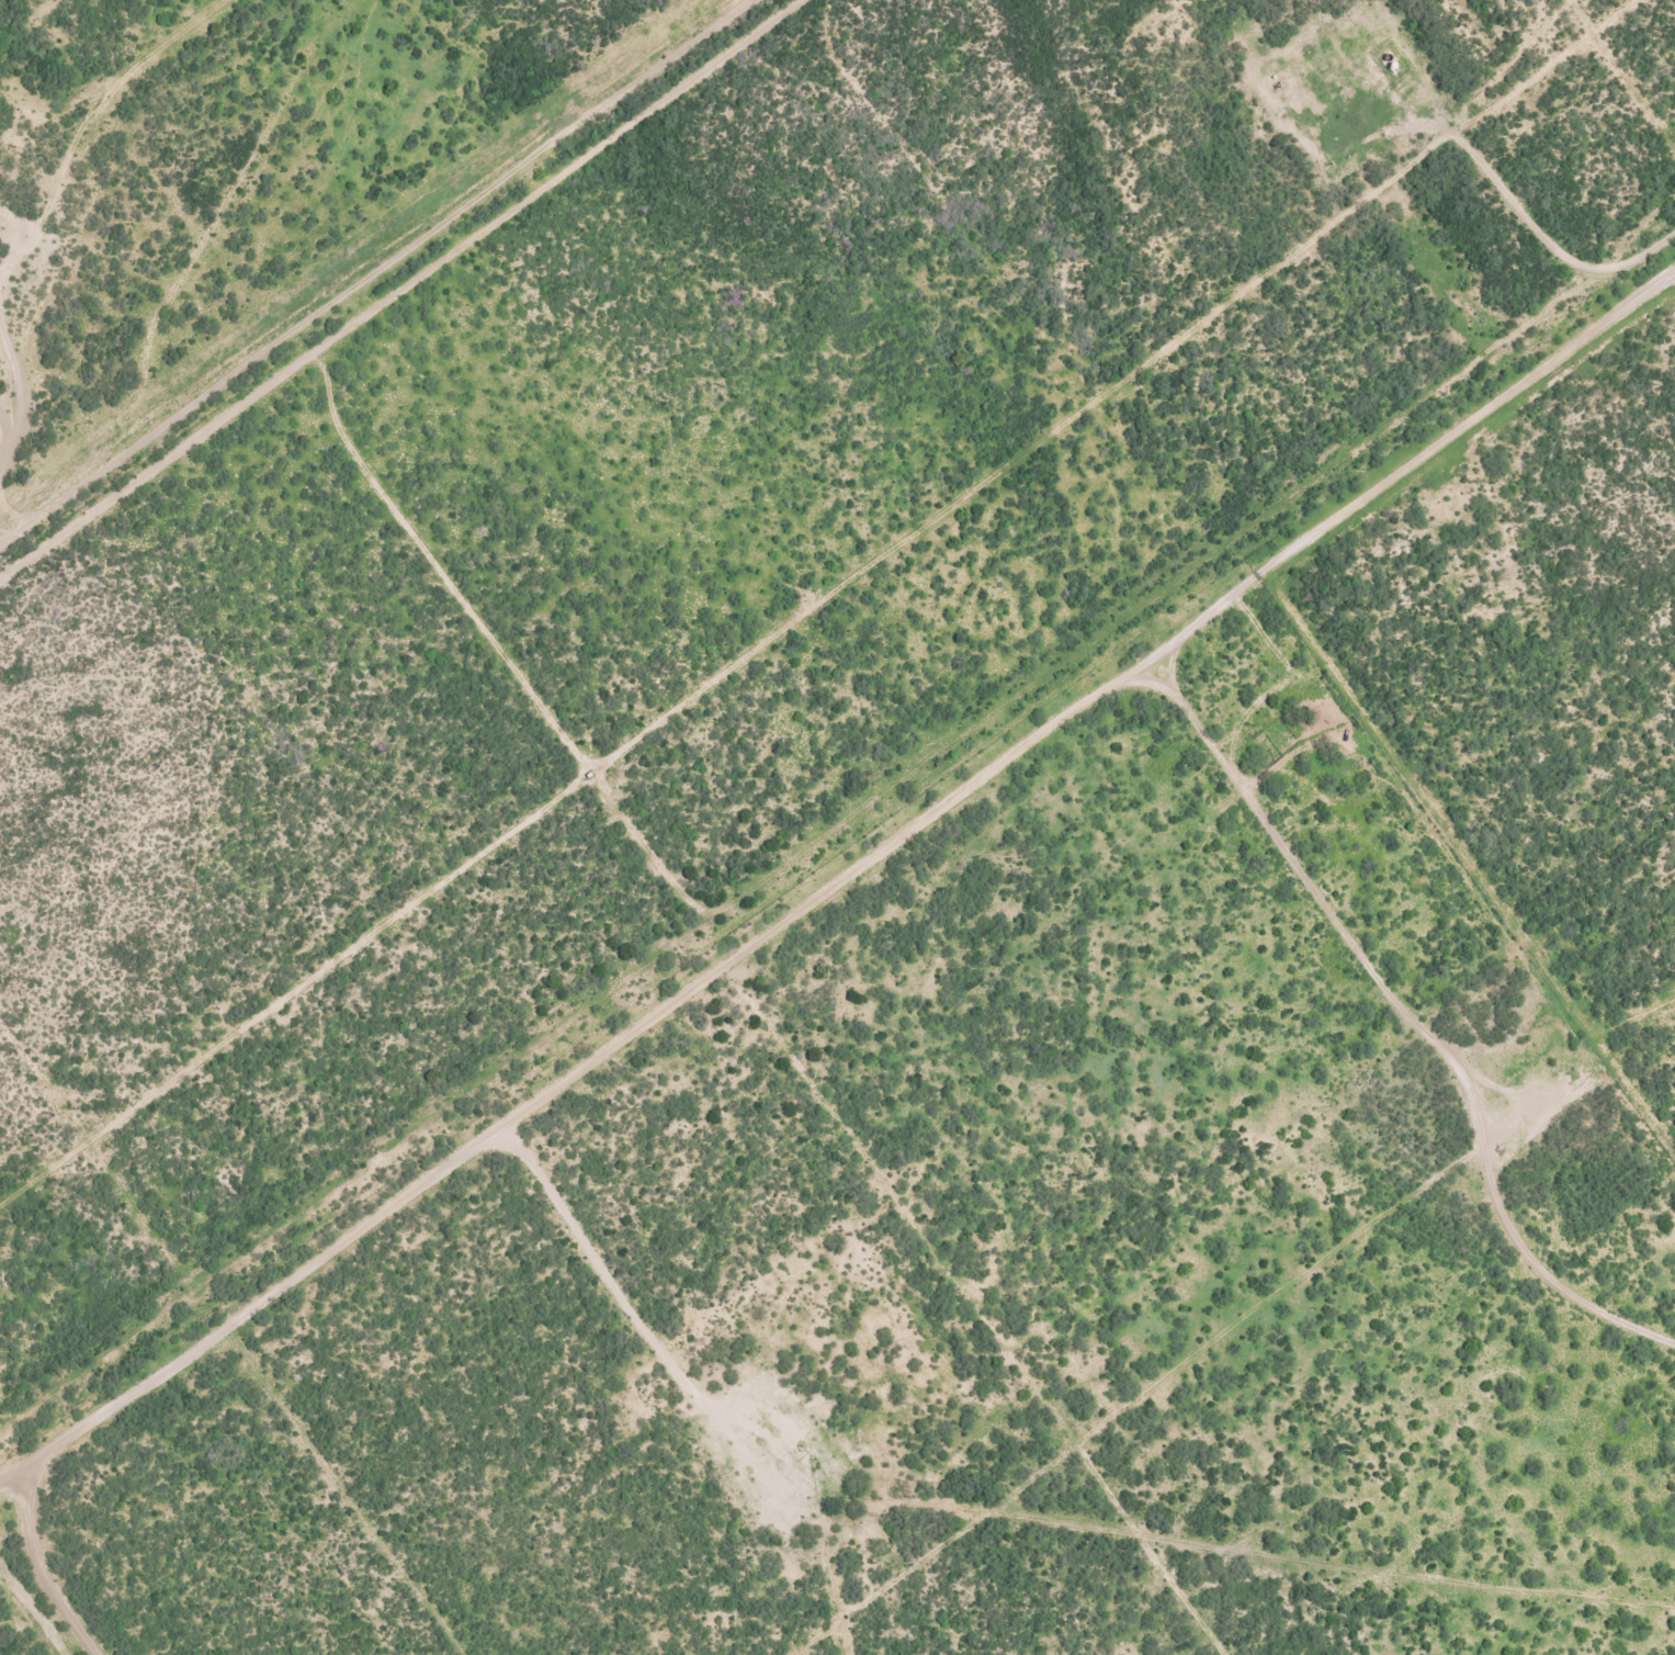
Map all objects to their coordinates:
road: (482, 214)
road: (200, 302)
road: (70, 374)
road: (760, 917)
road: (1, 1500)

